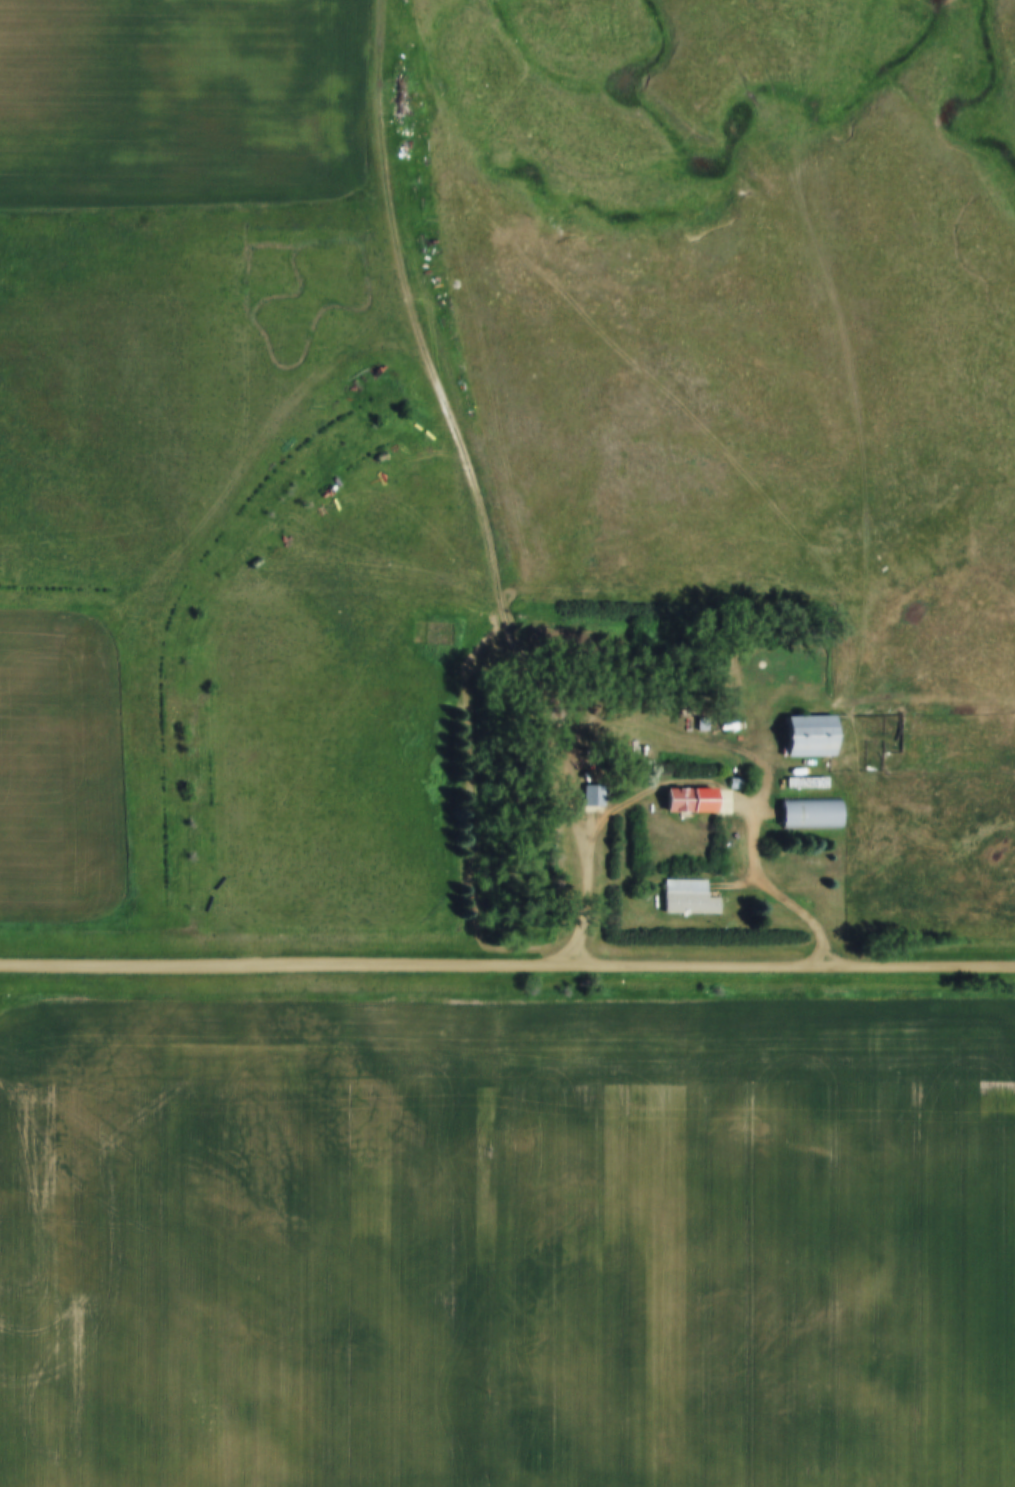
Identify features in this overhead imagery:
road: (455, 425)
building: (807, 737)
road: (691, 785)
building: (592, 797)
building: (687, 801)
building: (808, 815)
building: (687, 898)
road: (507, 973)

